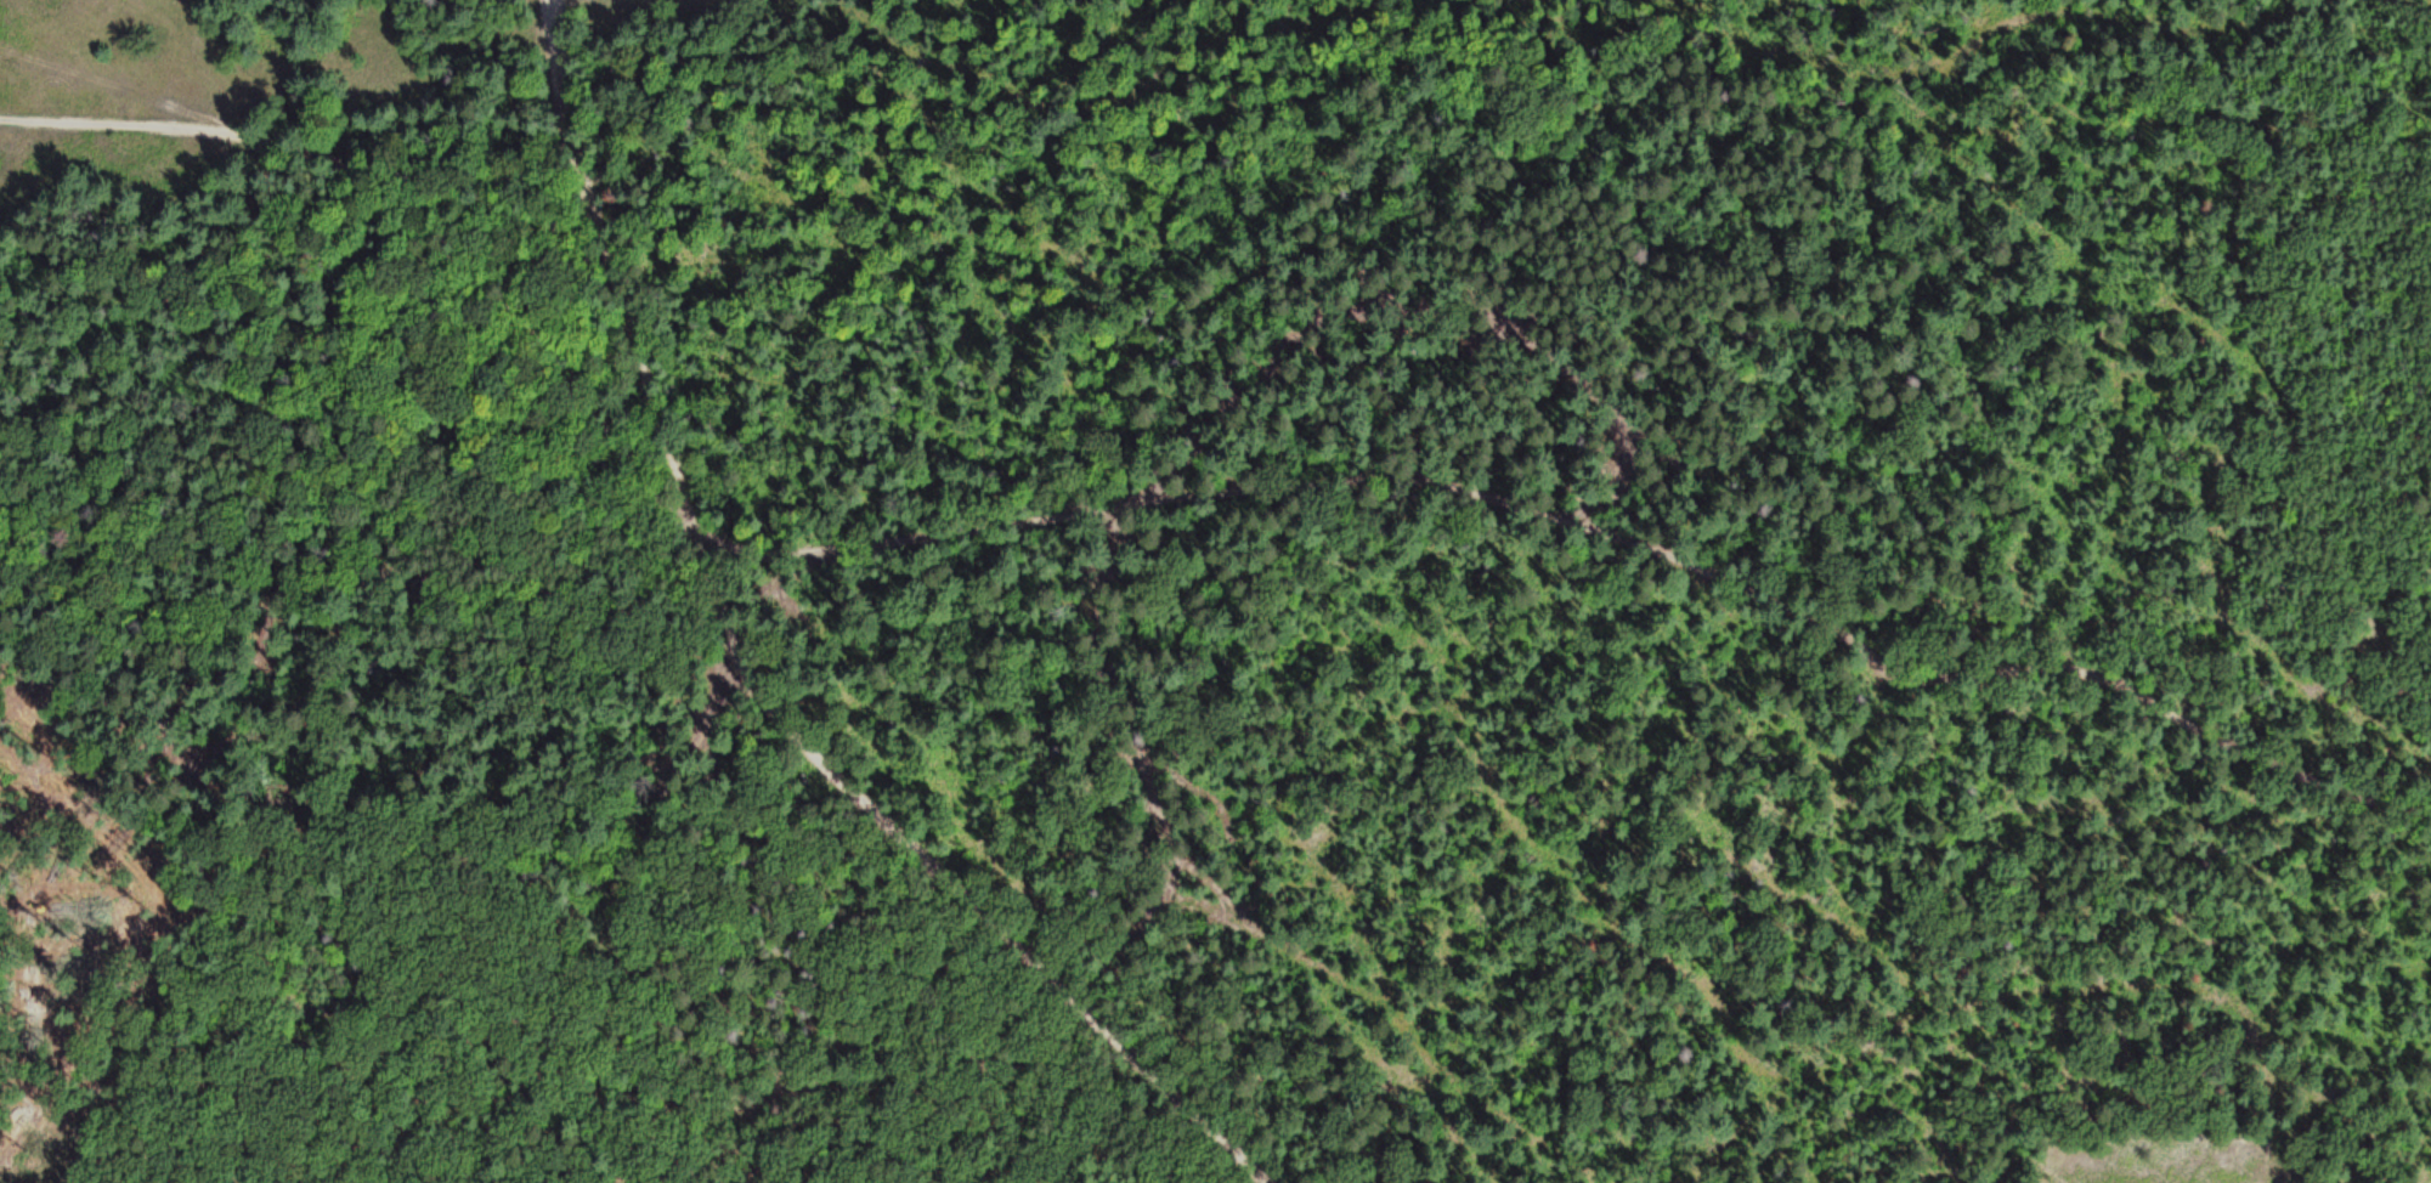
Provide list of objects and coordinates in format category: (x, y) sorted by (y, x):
road: (123, 87)
road: (440, 243)
road: (1629, 539)
road: (746, 557)
road: (751, 684)

